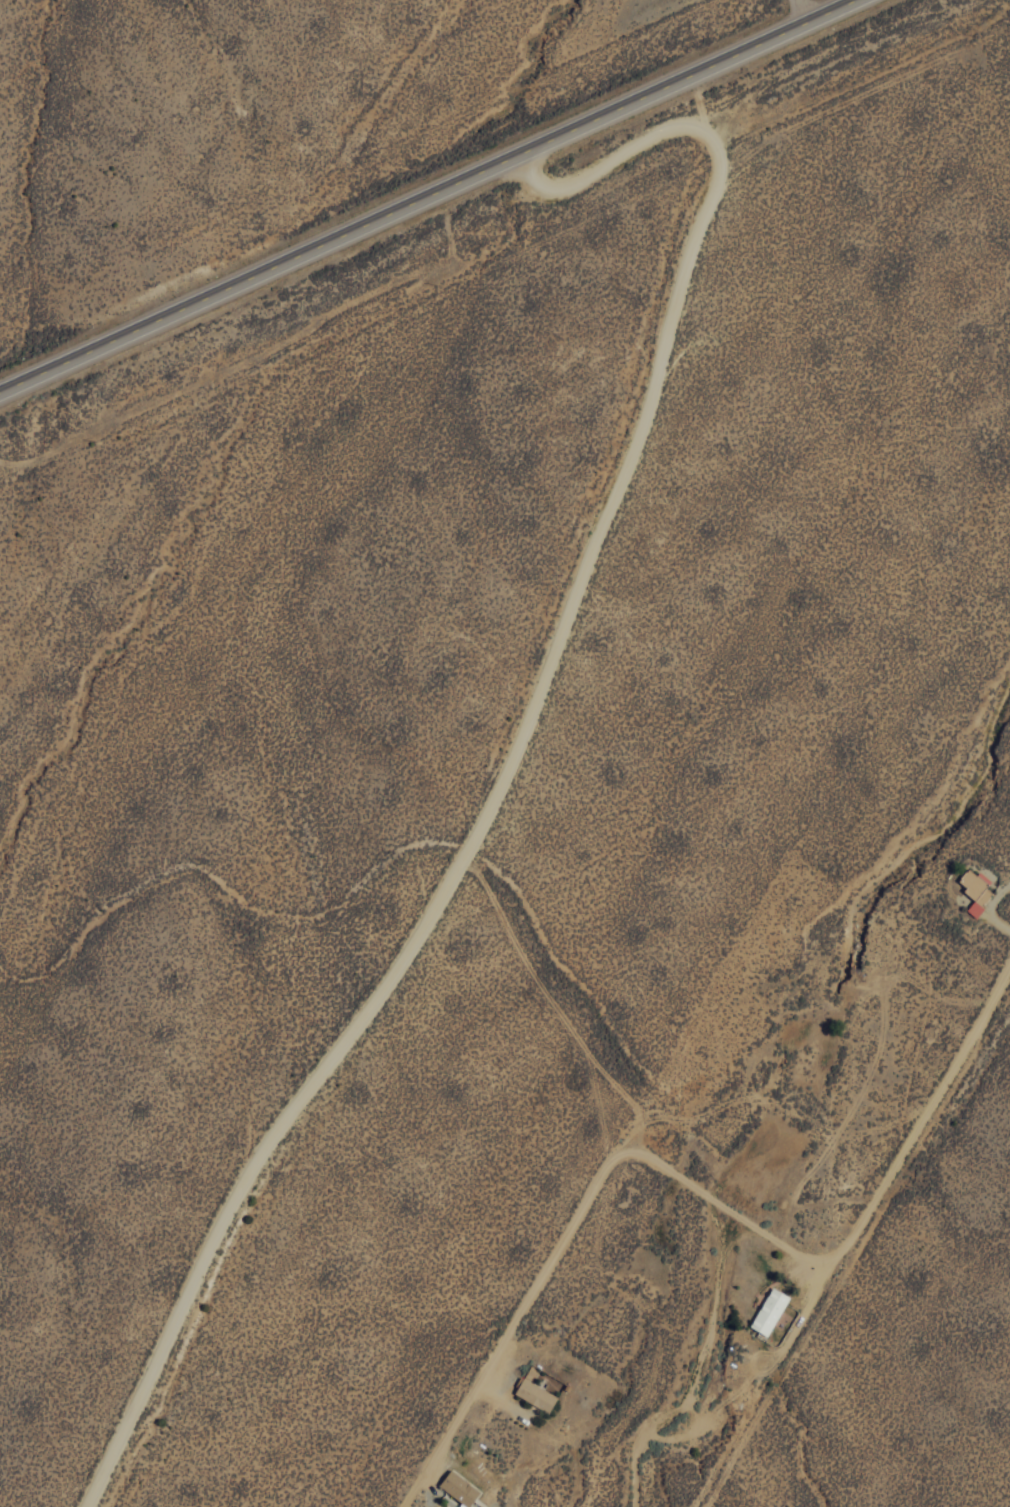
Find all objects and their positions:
road: (425, 194)
road: (519, 746)
road: (699, 1192)
building: (769, 1310)
building: (535, 1394)
building: (459, 1487)

